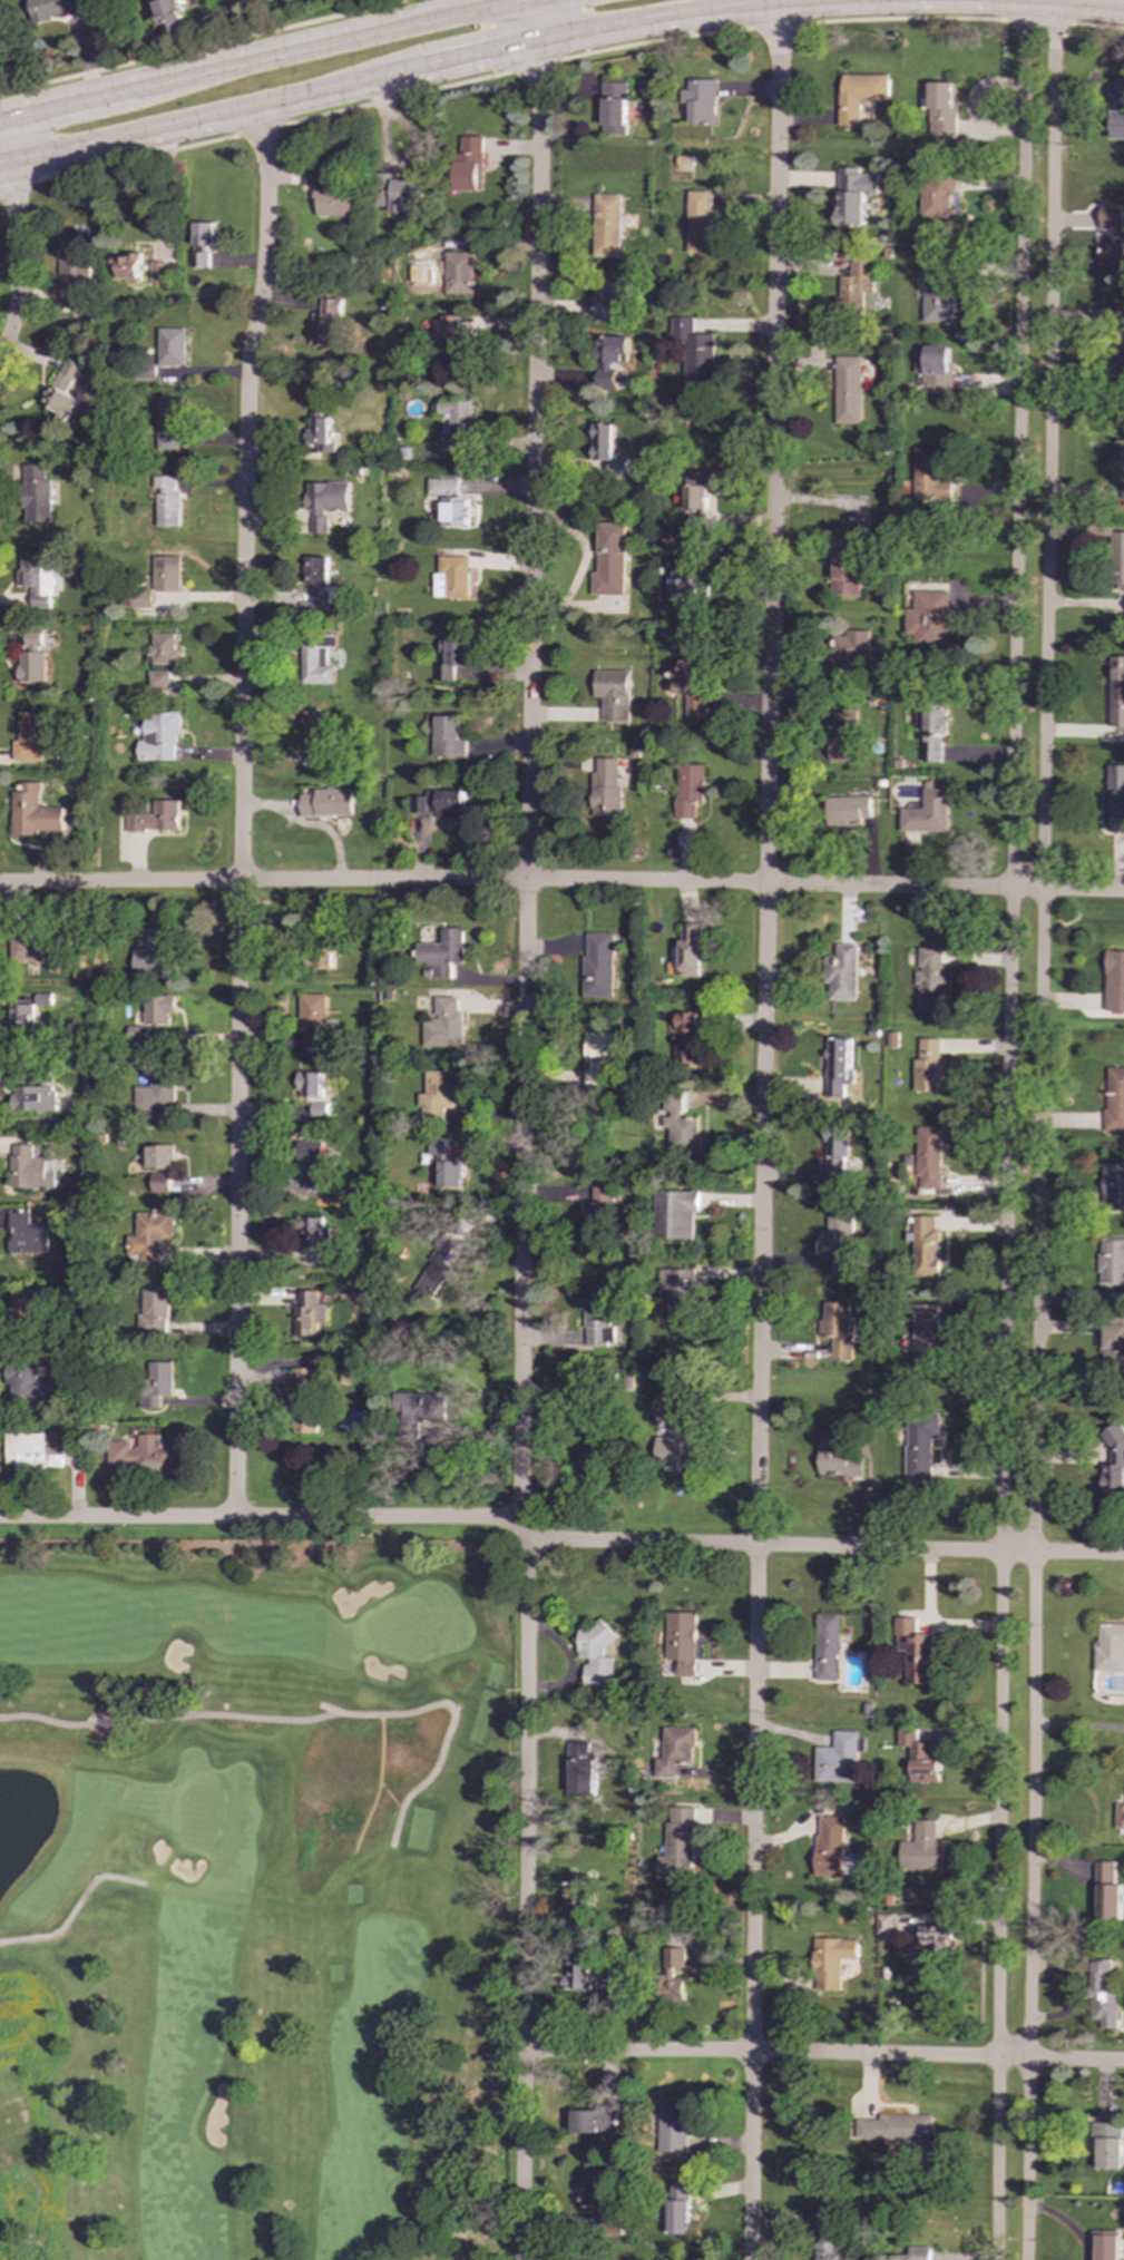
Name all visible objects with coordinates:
road: (1084, 3)
building: (53, 9)
building: (172, 16)
road: (902, 18)
road: (1036, 20)
road: (774, 26)
road: (1096, 26)
road: (654, 40)
road: (201, 45)
road: (254, 58)
road: (534, 65)
road: (417, 68)
building: (859, 95)
road: (395, 97)
building: (698, 101)
building: (613, 108)
building: (942, 109)
building: (1116, 111)
road: (258, 129)
road: (135, 157)
building: (469, 164)
building: (311, 177)
road: (17, 184)
building: (395, 193)
building: (853, 195)
building: (938, 198)
building: (332, 202)
building: (701, 222)
building: (606, 226)
building: (204, 236)
building: (1111, 236)
road: (18, 244)
building: (199, 260)
building: (128, 265)
building: (75, 272)
building: (158, 273)
building: (459, 273)
building: (422, 274)
building: (854, 286)
building: (935, 295)
building: (614, 302)
building: (325, 322)
building: (449, 339)
building: (173, 346)
building: (693, 351)
building: (608, 359)
building: (937, 366)
building: (63, 390)
building: (847, 390)
building: (170, 424)
building: (456, 425)
building: (320, 434)
building: (603, 449)
building: (1117, 459)
building: (925, 477)
building: (443, 487)
building: (1122, 492)
building: (38, 497)
building: (168, 499)
building: (695, 501)
building: (326, 502)
building: (456, 512)
building: (609, 560)
building: (1117, 561)
building: (848, 562)
building: (38, 575)
building: (168, 575)
building: (452, 578)
building: (320, 584)
building: (686, 586)
building: (143, 597)
building: (928, 618)
building: (164, 648)
building: (850, 653)
building: (32, 656)
building: (451, 658)
building: (316, 661)
building: (159, 679)
building: (692, 686)
building: (1116, 692)
building: (613, 694)
building: (932, 732)
building: (321, 733)
building: (846, 735)
building: (30, 737)
building: (159, 737)
building: (450, 737)
road: (528, 760)
road: (768, 774)
road: (1013, 776)
road: (1044, 777)
building: (607, 790)
building: (691, 790)
building: (1116, 796)
building: (328, 803)
building: (441, 804)
building: (849, 810)
road: (242, 811)
building: (37, 812)
building: (927, 813)
building: (157, 818)
road: (561, 880)
building: (39, 949)
building: (692, 949)
building: (442, 953)
building: (157, 956)
building: (321, 956)
building: (599, 965)
building: (842, 972)
building: (931, 980)
building: (1114, 981)
building: (46, 999)
building: (160, 1008)
building: (25, 1018)
building: (315, 1019)
building: (444, 1025)
building: (687, 1038)
building: (597, 1060)
building: (839, 1066)
building: (929, 1066)
building: (312, 1085)
building: (158, 1095)
building: (36, 1098)
building: (1115, 1099)
building: (676, 1127)
building: (163, 1157)
building: (837, 1157)
building: (930, 1157)
building: (312, 1164)
building: (444, 1164)
building: (30, 1170)
building: (163, 1183)
building: (1113, 1185)
building: (597, 1211)
building: (676, 1214)
building: (313, 1232)
building: (27, 1235)
building: (152, 1237)
building: (839, 1241)
building: (927, 1248)
building: (335, 1258)
building: (1112, 1262)
building: (436, 1268)
building: (22, 1295)
building: (683, 1297)
building: (155, 1308)
building: (309, 1314)
building: (597, 1318)
building: (838, 1328)
building: (927, 1333)
building: (156, 1385)
building: (31, 1386)
building: (305, 1400)
building: (416, 1411)
building: (678, 1442)
building: (920, 1445)
building: (33, 1451)
building: (589, 1451)
building: (141, 1452)
building: (838, 1457)
building: (1115, 1460)
road: (260, 1518)
road: (522, 1530)
road: (824, 1547)
building: (682, 1642)
building: (827, 1646)
building: (1111, 1646)
building: (916, 1652)
building: (595, 1654)
road: (166, 1718)
road: (449, 1720)
building: (677, 1754)
building: (919, 1758)
building: (839, 1759)
building: (579, 1769)
building: (1120, 1816)
building: (680, 1845)
building: (830, 1847)
building: (922, 1849)
park: (256, 1894)
building: (1107, 1894)
building: (576, 1896)
road: (524, 1900)
road: (752, 1901)
road: (998, 1907)
road: (1030, 1907)
road: (72, 1910)
building: (884, 1925)
building: (932, 1941)
building: (831, 1961)
building: (673, 1974)
building: (589, 1979)
building: (1104, 1996)
road: (823, 2053)
building: (594, 2120)
building: (673, 2127)
building: (898, 2132)
building: (1111, 2145)
building: (593, 2185)
building: (677, 2208)
building: (609, 2221)
building: (823, 2227)
building: (1104, 2248)
building: (825, 2251)
building: (911, 2254)

